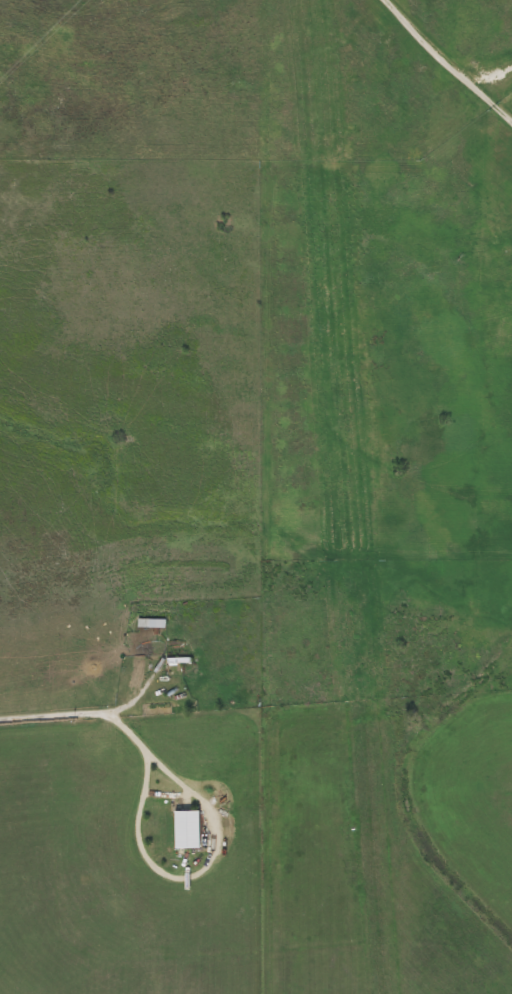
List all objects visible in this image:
road: (445, 63)
building: (152, 623)
road: (78, 714)
building: (187, 829)
road: (189, 876)

